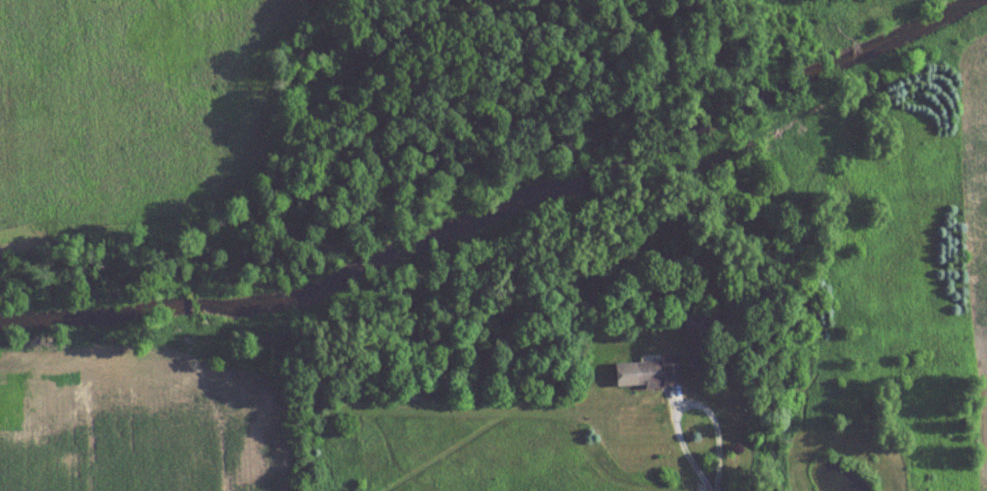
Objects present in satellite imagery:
river: (501, 211)
building: (639, 374)
road: (685, 402)
crop: (140, 419)

